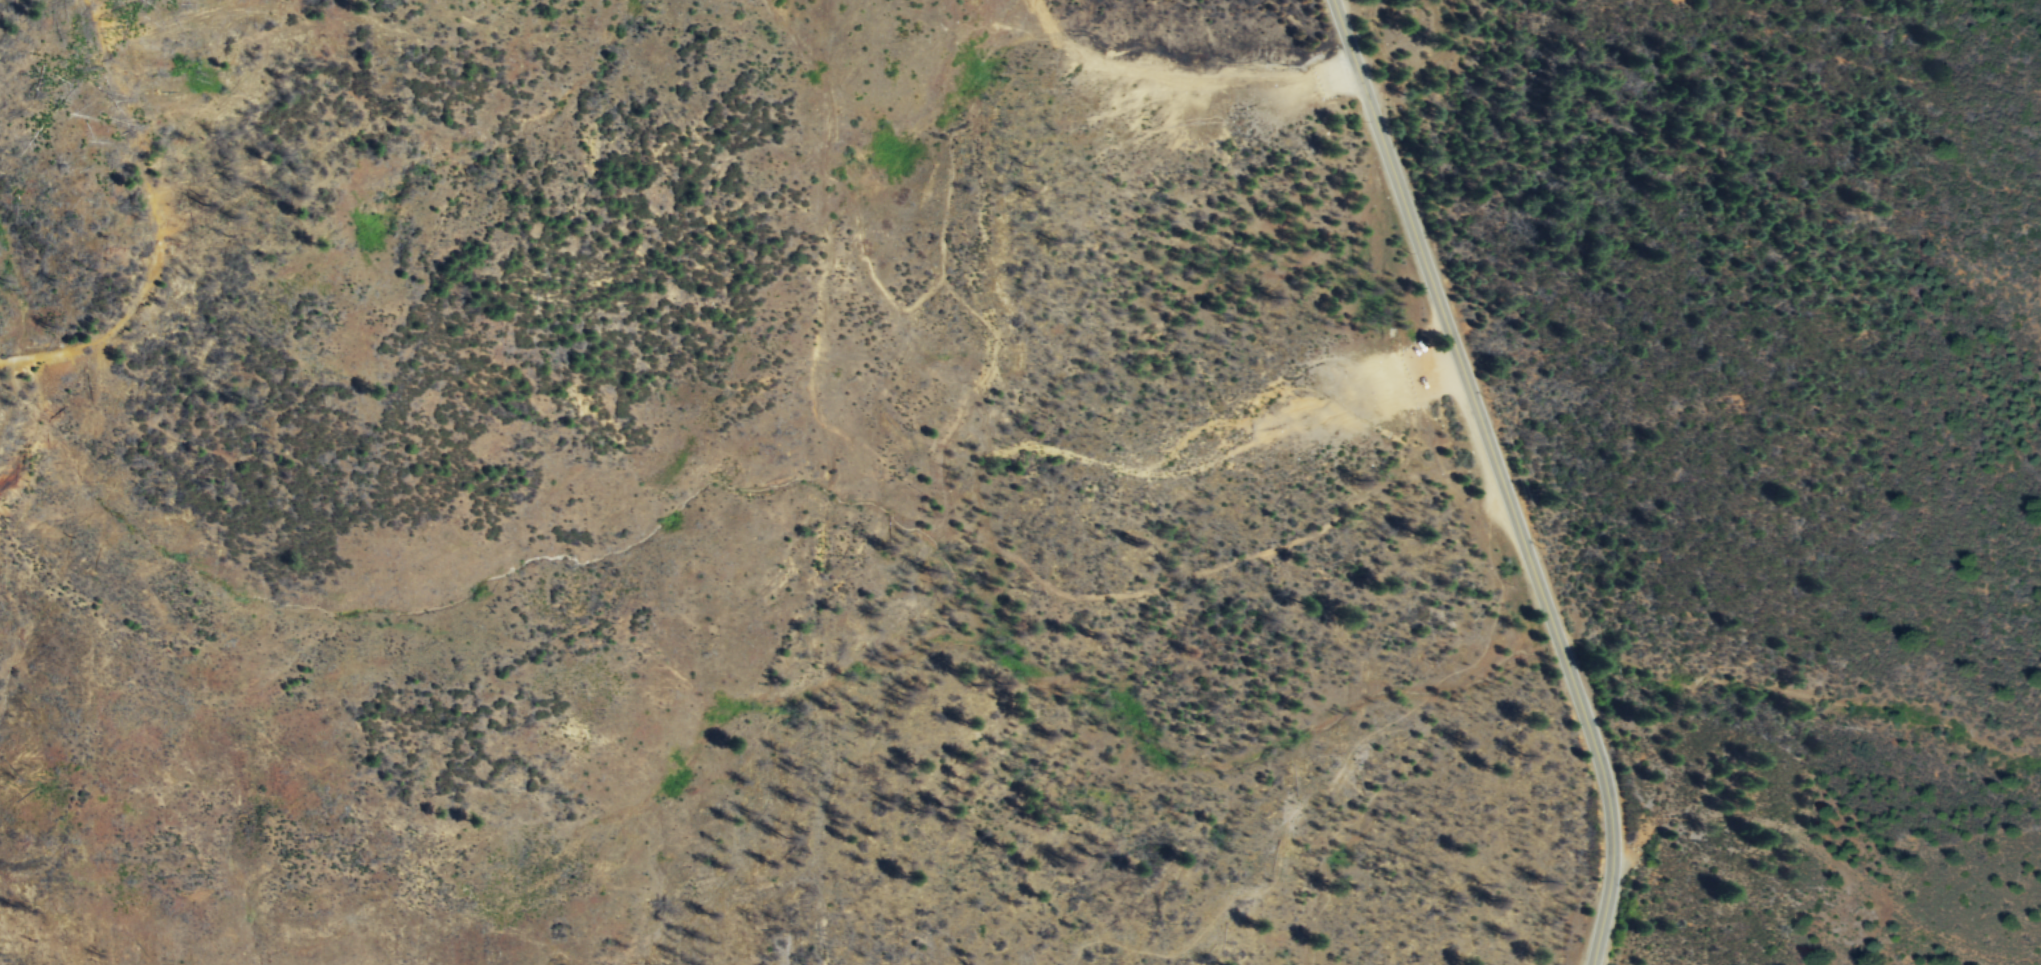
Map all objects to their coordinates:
road: (163, 231)
road: (1501, 479)

